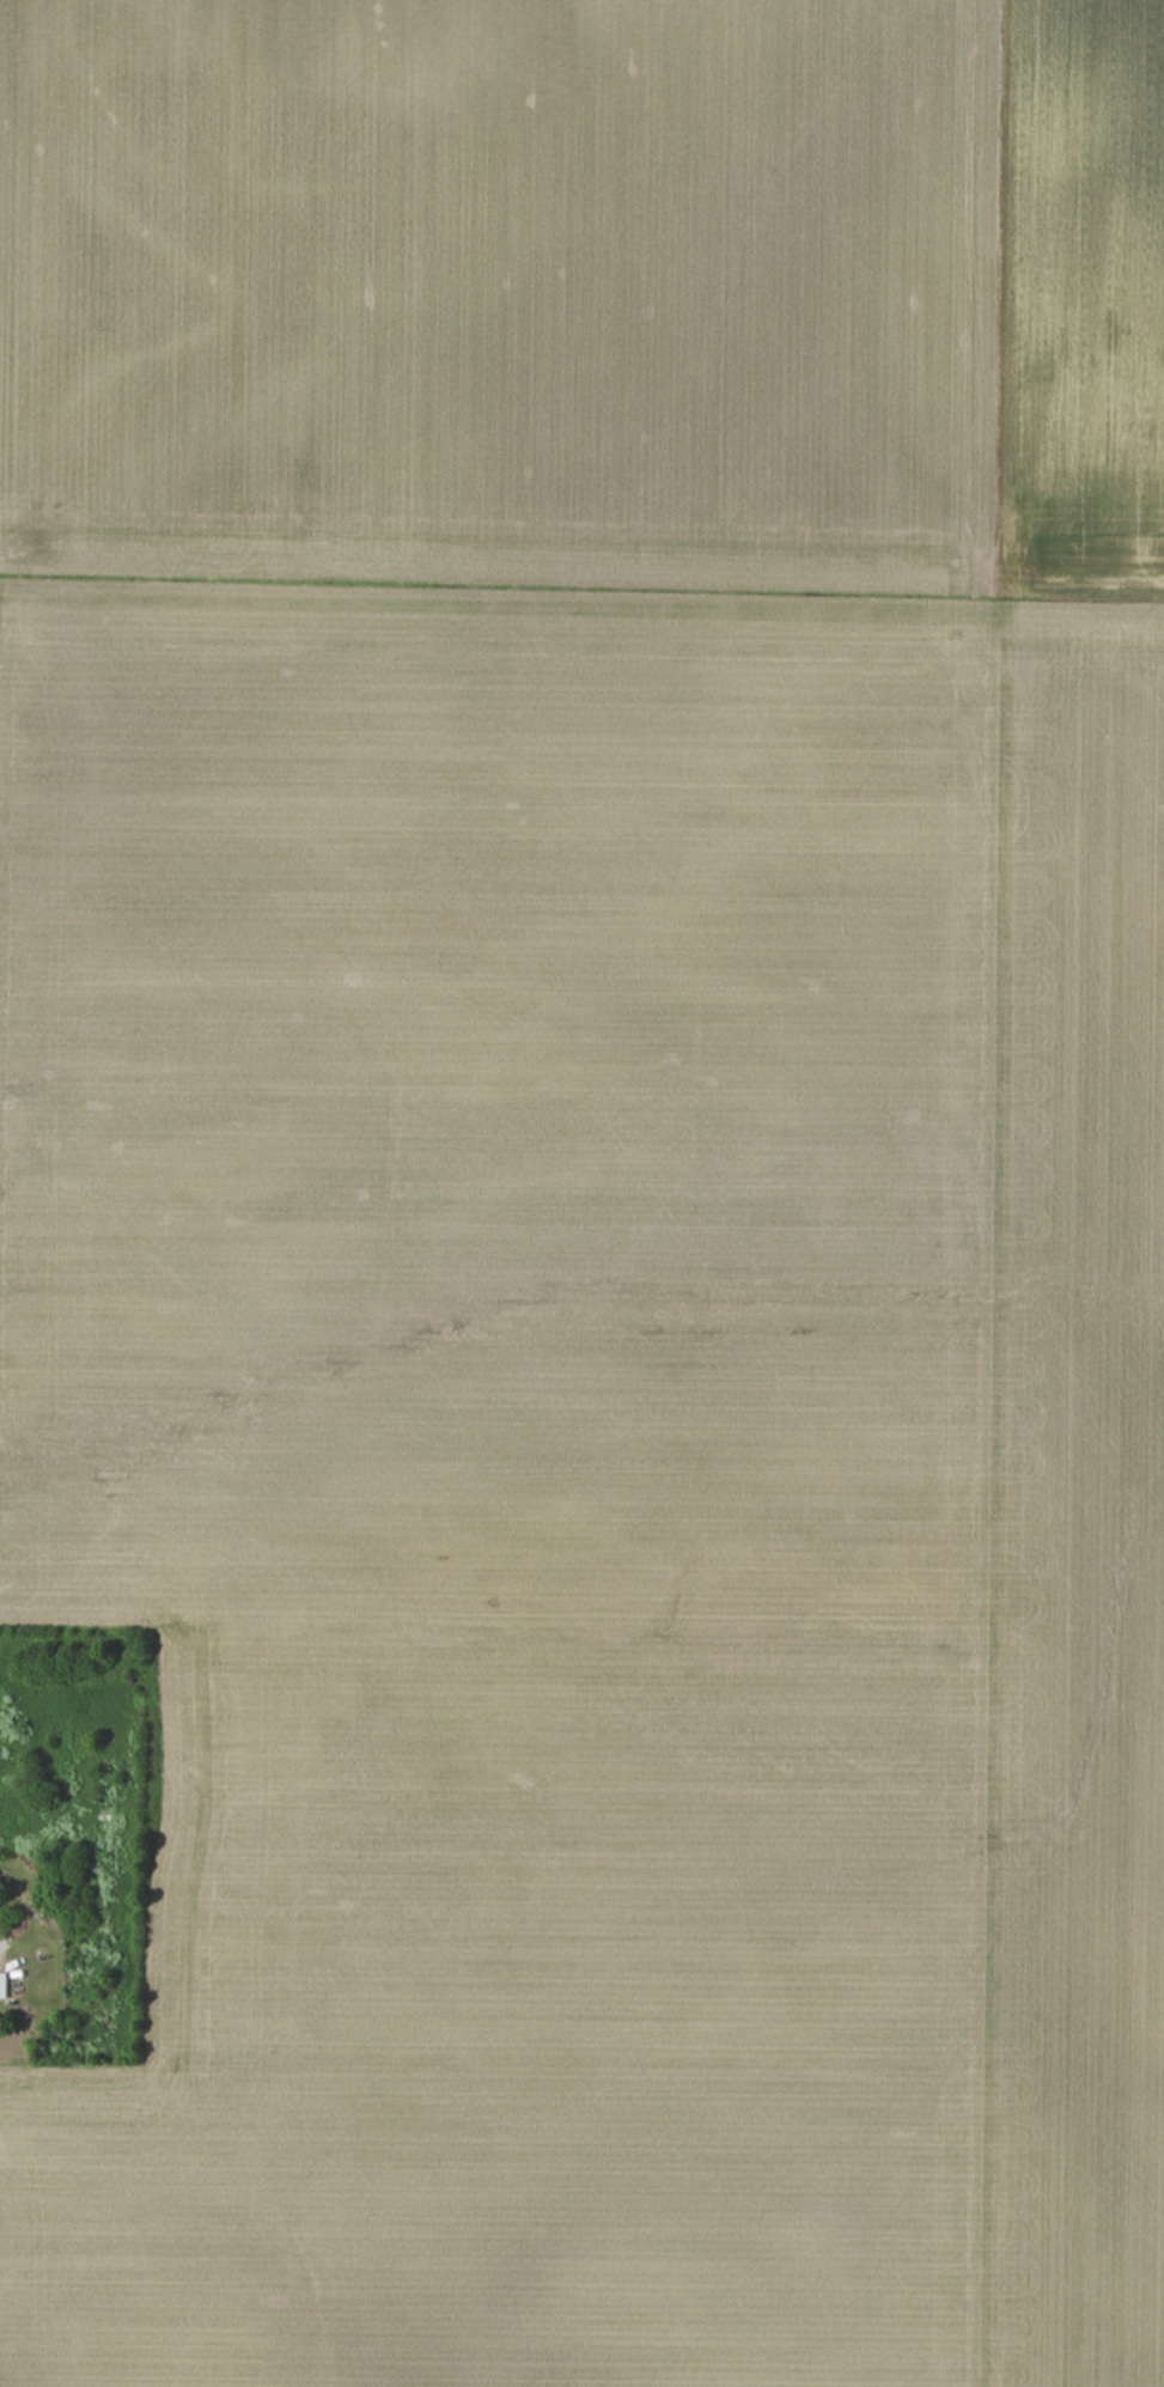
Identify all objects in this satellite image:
road: (24, 1900)

